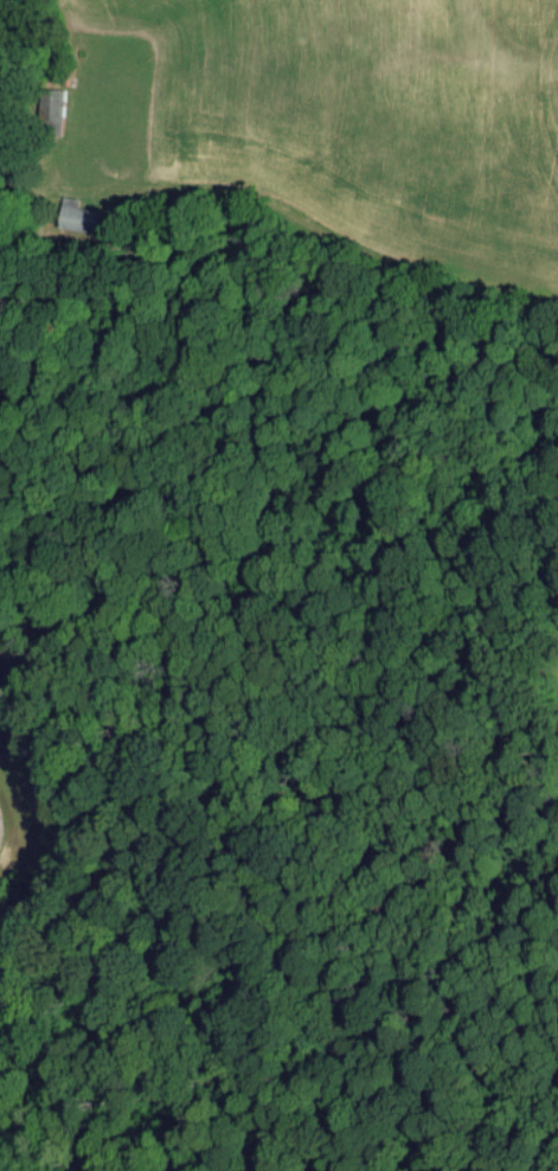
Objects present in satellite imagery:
building: (50, 102)
road: (5, 198)
building: (70, 219)
dam: (15, 775)

